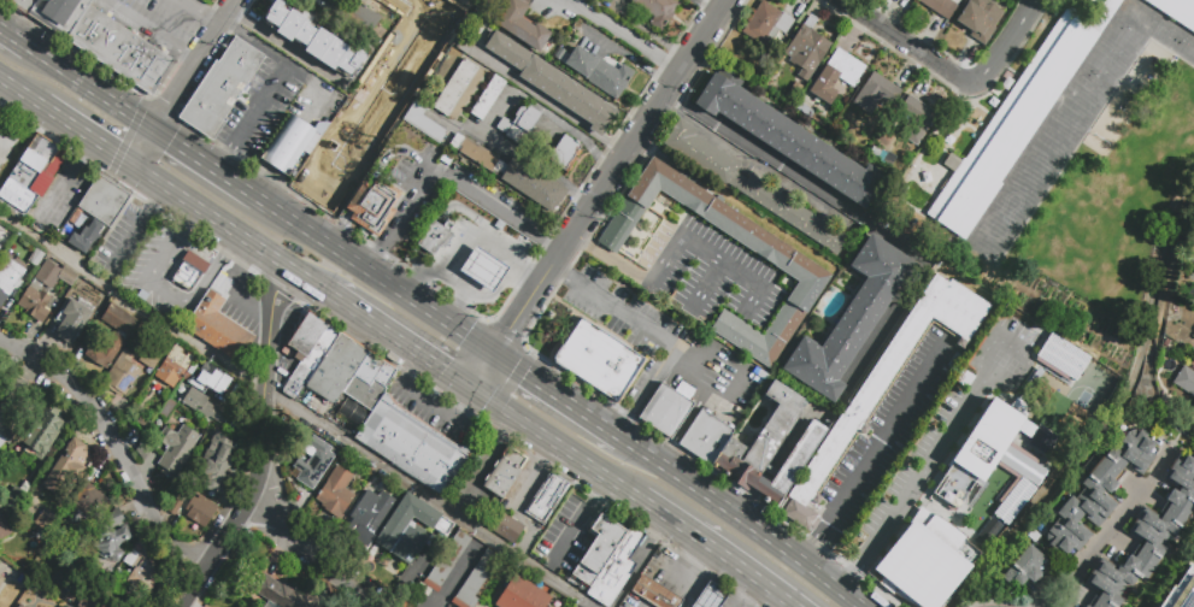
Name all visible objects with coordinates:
building: (22, 4)
road: (704, 6)
building: (941, 6)
road: (208, 10)
building: (658, 11)
building: (1176, 11)
building: (59, 13)
building: (355, 16)
building: (980, 18)
parking lot: (157, 20)
building: (522, 24)
building: (766, 24)
road: (151, 30)
road: (622, 34)
road: (14, 39)
building: (314, 41)
road: (254, 42)
road: (904, 42)
building: (465, 46)
road: (1006, 46)
building: (119, 49)
building: (806, 49)
road: (195, 65)
road: (407, 70)
building: (599, 72)
building: (836, 75)
building: (553, 84)
building: (220, 87)
road: (317, 87)
road: (18, 89)
road: (92, 89)
building: (458, 89)
building: (876, 94)
building: (487, 98)
traffic signals: (170, 104)
road: (258, 106)
road: (495, 113)
building: (1018, 117)
building: (916, 119)
building: (423, 122)
building: (519, 124)
road: (88, 132)
building: (947, 137)
building: (789, 139)
traffic signals: (170, 142)
road: (287, 145)
building: (289, 145)
road: (146, 148)
road: (396, 148)
road: (88, 149)
traffic signals: (116, 152)
building: (565, 153)
road: (220, 159)
road: (205, 165)
building: (327, 169)
building: (513, 173)
building: (25, 175)
road: (260, 181)
building: (749, 187)
road: (61, 189)
parking lot: (61, 194)
road: (595, 194)
park: (1119, 195)
road: (361, 196)
road: (159, 198)
building: (105, 201)
building: (374, 205)
road: (496, 208)
road: (189, 217)
road: (399, 219)
road: (465, 226)
road: (231, 229)
road: (340, 229)
road: (134, 235)
building: (87, 236)
parking lot: (123, 237)
building: (435, 237)
gas station: (472, 254)
road: (495, 254)
road: (164, 255)
road: (708, 255)
road: (610, 258)
road: (924, 259)
building: (795, 265)
building: (188, 269)
road: (212, 269)
building: (482, 271)
road: (483, 272)
building: (8, 277)
road: (374, 277)
road: (236, 283)
road: (707, 284)
building: (35, 293)
road: (167, 294)
road: (461, 305)
building: (852, 319)
building: (118, 320)
building: (73, 322)
building: (218, 329)
traffic signals: (508, 330)
road: (657, 335)
road: (396, 341)
building: (1193, 348)
road: (1018, 349)
building: (307, 350)
building: (104, 352)
building: (153, 352)
road: (270, 355)
building: (1063, 359)
building: (598, 361)
building: (172, 367)
building: (341, 367)
traffic signals: (442, 372)
road: (692, 373)
building: (120, 375)
building: (384, 375)
traffic signals: (523, 376)
building: (1184, 381)
building: (211, 382)
road: (698, 385)
building: (883, 385)
building: (364, 390)
road: (507, 390)
road: (731, 395)
road: (557, 396)
road: (429, 401)
building: (10, 406)
building: (202, 407)
building: (667, 408)
road: (298, 409)
traffic signals: (458, 412)
parking lot: (446, 420)
road: (682, 426)
building: (43, 430)
road: (888, 435)
road: (113, 442)
building: (408, 444)
road: (553, 444)
building: (1002, 444)
building: (755, 446)
building: (328, 449)
building: (177, 450)
building: (218, 461)
road: (483, 465)
building: (70, 467)
building: (504, 471)
building: (308, 472)
parking lot: (476, 473)
road: (923, 473)
parking lot: (525, 485)
building: (335, 493)
building: (1098, 493)
road: (706, 495)
building: (545, 496)
building: (14, 499)
building: (1012, 500)
road: (508, 502)
road: (747, 505)
building: (92, 506)
building: (176, 506)
building: (200, 509)
building: (369, 518)
road: (580, 520)
building: (41, 523)
building: (505, 526)
building: (4, 528)
road: (227, 529)
building: (407, 529)
road: (1102, 530)
building: (988, 534)
parking lot: (567, 535)
building: (113, 536)
building: (1147, 538)
road: (305, 544)
road: (819, 547)
building: (599, 549)
road: (716, 552)
building: (133, 555)
building: (925, 560)
building: (447, 561)
road: (642, 562)
building: (616, 567)
building: (1027, 568)
building: (142, 577)
road: (667, 577)
road: (853, 578)
road: (825, 579)
building: (475, 581)
building: (1, 582)
building: (76, 587)
building: (1180, 590)
road: (696, 591)
building: (655, 593)
building: (282, 594)
building: (520, 595)
road: (722, 595)
road: (752, 595)
building: (711, 596)
gas station: (711, 596)
road: (711, 599)
road: (701, 601)
building: (1065, 601)
building: (1143, 601)
building: (20, 606)
building: (69, 606)
building: (1087, 606)

